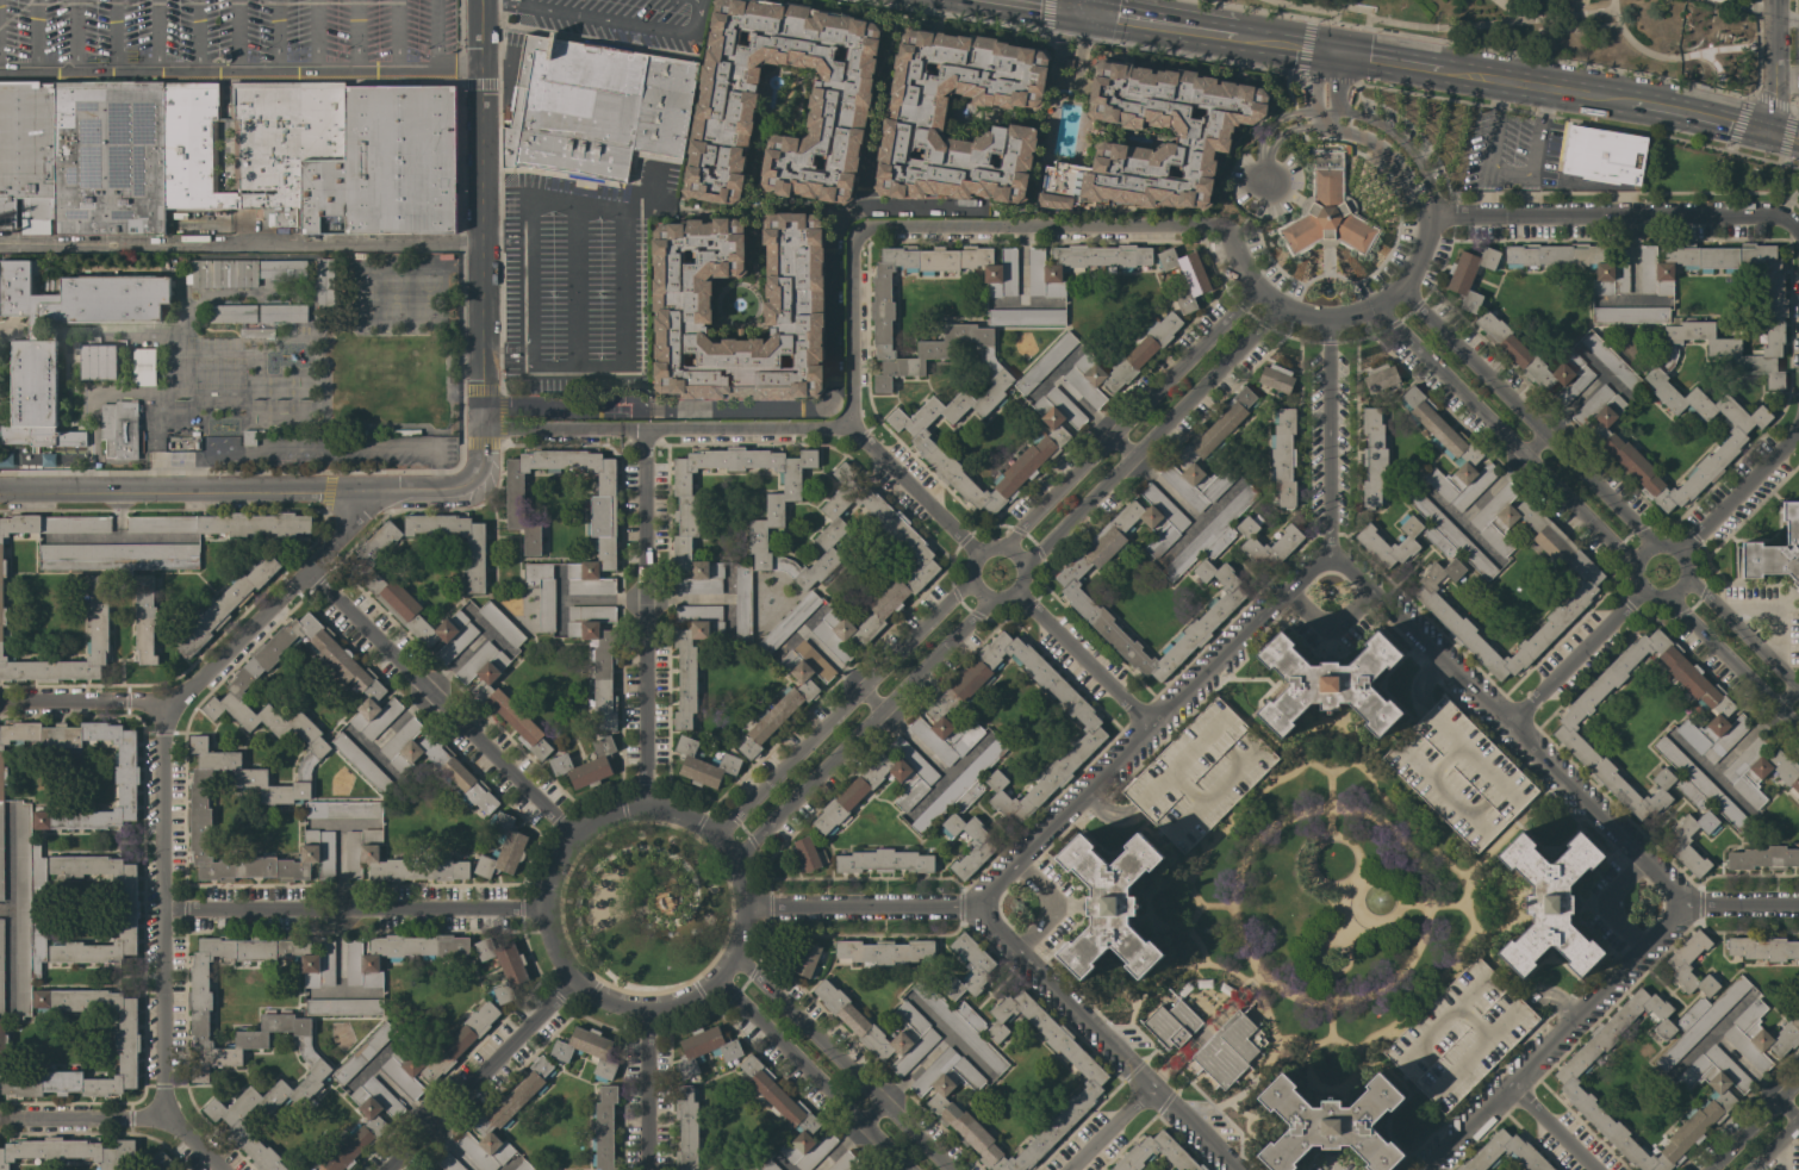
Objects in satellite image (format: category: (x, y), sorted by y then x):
road: (504, 2)
road: (522, 2)
road: (1059, 4)
road: (1083, 4)
traffic signals: (1083, 8)
road: (1151, 10)
road: (1264, 11)
road: (1512, 11)
parking lot: (621, 20)
road: (1788, 20)
road: (623, 21)
road: (1158, 21)
road: (1352, 26)
road: (1432, 27)
park: (1570, 31)
road: (35, 33)
road: (73, 33)
road: (114, 33)
road: (157, 33)
road: (197, 33)
road: (236, 33)
road: (276, 33)
road: (316, 35)
road: (355, 35)
road: (394, 35)
road: (435, 35)
parking lot: (226, 38)
road: (1276, 43)
road: (1330, 52)
traffic signals: (1342, 55)
road: (1545, 60)
road: (1680, 60)
road: (1390, 62)
building: (1067, 63)
road: (239, 68)
road: (1778, 68)
road: (1314, 80)
road: (1063, 81)
road: (1788, 81)
road: (1339, 82)
road: (1722, 86)
road: (1535, 87)
road: (224, 92)
building: (839, 105)
building: (592, 107)
road: (1325, 110)
building: (915, 114)
road: (1319, 118)
road: (1332, 118)
road: (1699, 118)
road: (1274, 122)
road: (1342, 130)
traffic signals: (1768, 135)
building: (1203, 136)
road: (1784, 138)
road: (1405, 147)
building: (319, 153)
building: (27, 155)
building: (1604, 155)
building: (110, 156)
road: (1264, 168)
road: (1508, 172)
road: (865, 180)
road: (1418, 205)
building: (1327, 211)
road: (481, 212)
road: (623, 216)
road: (1616, 218)
road: (1041, 225)
road: (505, 239)
road: (241, 242)
building: (1576, 262)
building: (1077, 265)
building: (282, 268)
building: (224, 273)
building: (1470, 275)
road: (1633, 275)
building: (1184, 276)
building: (324, 282)
road: (1021, 282)
road: (575, 284)
road: (1616, 300)
road: (1007, 304)
building: (793, 305)
building: (234, 313)
building: (284, 313)
building: (1630, 315)
building: (1026, 317)
road: (1332, 317)
road: (851, 325)
building: (256, 332)
road: (505, 353)
building: (97, 359)
road: (1591, 360)
building: (1611, 360)
building: (1537, 361)
building: (1045, 362)
building: (1119, 362)
building: (144, 367)
road: (1053, 373)
building: (1276, 378)
building: (1381, 379)
building: (1655, 379)
building: (1001, 381)
building: (35, 382)
road: (1585, 391)
building: (623, 403)
road: (1082, 404)
road: (822, 405)
road: (1128, 415)
road: (1530, 416)
road: (518, 425)
road: (701, 428)
building: (119, 429)
road: (1154, 435)
road: (1504, 435)
building: (249, 437)
road: (1533, 443)
road: (1123, 444)
road: (481, 450)
road: (319, 453)
building: (1449, 453)
building: (1208, 454)
building: (1283, 456)
building: (1374, 456)
road: (1743, 485)
road: (914, 487)
road: (419, 488)
road: (180, 490)
road: (1444, 508)
road: (1470, 509)
building: (523, 522)
building: (224, 523)
building: (1212, 534)
building: (1446, 534)
road: (105, 537)
road: (156, 537)
building: (1268, 542)
building: (1371, 542)
road: (1682, 544)
road: (1642, 550)
building: (1775, 550)
building: (762, 555)
building: (119, 556)
building: (475, 565)
road: (967, 580)
building: (1431, 581)
building: (1070, 583)
road: (1689, 586)
building: (99, 592)
building: (542, 593)
road: (1635, 593)
building: (409, 599)
building: (742, 603)
road: (269, 604)
building: (226, 605)
road: (1772, 614)
road: (646, 617)
building: (145, 620)
building: (789, 622)
building: (500, 623)
road: (1327, 627)
road: (1745, 640)
road: (498, 641)
road: (1231, 643)
road: (469, 647)
road: (1787, 652)
building: (693, 655)
building: (598, 656)
road: (1083, 660)
road: (1568, 660)
road: (1732, 661)
building: (1328, 684)
building: (789, 693)
road: (869, 695)
road: (1785, 696)
building: (502, 697)
road: (79, 702)
road: (438, 702)
road: (841, 703)
road: (1509, 724)
building: (1728, 726)
road: (860, 727)
building: (930, 728)
road: (385, 732)
road: (356, 738)
building: (318, 746)
road: (1693, 755)
road: (1726, 757)
building: (435, 763)
building: (362, 764)
building: (704, 764)
building: (586, 765)
building: (1760, 771)
building: (1458, 773)
building: (1200, 774)
parking lot: (1200, 774)
building: (915, 782)
building: (1699, 785)
building: (960, 789)
building: (343, 809)
building: (85, 816)
road: (323, 822)
road: (1382, 826)
building: (1676, 846)
building: (503, 847)
road: (340, 848)
building: (983, 848)
building: (808, 854)
road: (734, 857)
building: (1763, 858)
building: (394, 861)
building: (884, 861)
building: (1550, 903)
road: (1604, 904)
road: (1054, 905)
building: (1110, 905)
road: (1743, 905)
road: (863, 907)
building: (27, 908)
building: (126, 909)
road: (158, 909)
road: (351, 910)
building: (1763, 948)
building: (885, 951)
building: (394, 953)
building: (805, 959)
building: (1677, 963)
building: (503, 965)
building: (984, 965)
road: (340, 966)
road: (1255, 981)
building: (1203, 983)
road: (1250, 985)
building: (1184, 989)
building: (1225, 989)
road: (359, 991)
building: (85, 1003)
building: (343, 1006)
building: (1700, 1021)
building: (1171, 1023)
building: (961, 1025)
building: (917, 1028)
building: (259, 1031)
building: (1461, 1034)
building: (1760, 1035)
road: (1556, 1038)
road: (1101, 1041)
building: (705, 1048)
building: (587, 1050)
building: (1230, 1050)
road: (384, 1051)
building: (363, 1053)
building: (436, 1053)
road: (844, 1064)
road: (814, 1075)
road: (481, 1076)
road: (1754, 1076)
building: (1726, 1078)
building: (950, 1079)
road: (388, 1084)
road: (647, 1090)
road: (872, 1112)
road: (81, 1118)
building: (504, 1118)
building: (789, 1118)
road: (1751, 1121)
building: (1331, 1124)
building: (363, 1125)
road: (1556, 1125)
building: (687, 1127)
building: (604, 1128)
road: (1108, 1129)
road: (1773, 1141)
road: (189, 1144)
building: (1506, 1146)
road: (454, 1147)
building: (1156, 1147)
building: (67, 1151)
road: (1781, 1156)
building: (162, 1162)
building: (844, 1162)
building: (449, 1163)
road: (509, 1163)
building: (770, 1165)
building: (524, 1166)
building: (864, 1168)
building: (429, 1169)
building: (860, 1169)

